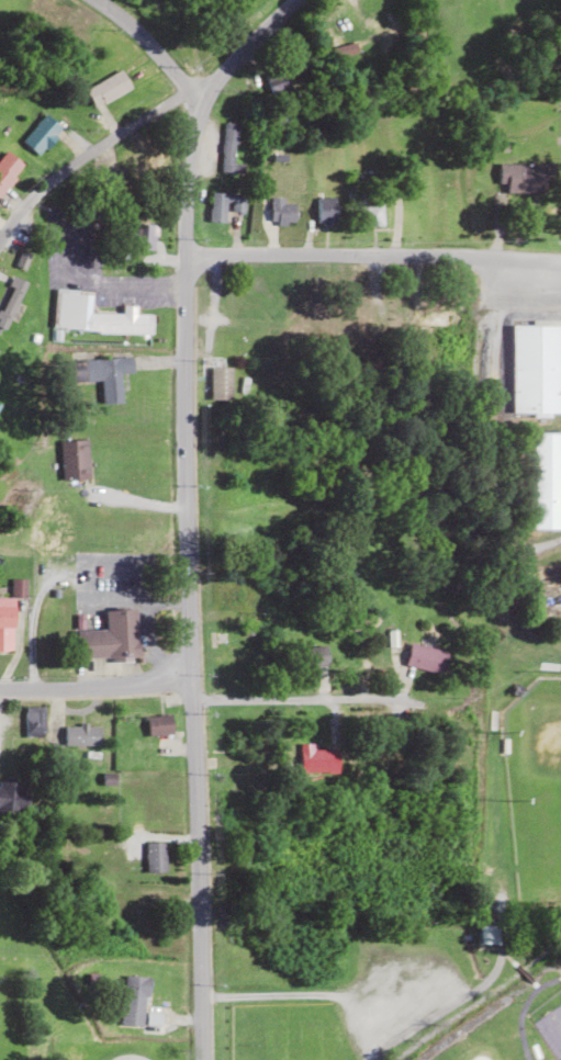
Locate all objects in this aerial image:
road: (143, 40)
road: (235, 45)
building: (279, 82)
building: (108, 88)
building: (42, 134)
building: (228, 147)
road: (85, 154)
building: (133, 162)
building: (9, 169)
building: (528, 179)
building: (224, 205)
building: (327, 211)
building: (281, 212)
building: (370, 212)
building: (144, 235)
road: (371, 255)
building: (10, 300)
building: (96, 316)
building: (362, 316)
building: (434, 317)
building: (536, 369)
building: (104, 375)
building: (221, 383)
road: (184, 386)
building: (74, 460)
building: (547, 480)
building: (53, 527)
building: (236, 596)
building: (9, 616)
building: (111, 638)
building: (227, 651)
building: (316, 656)
building: (426, 658)
road: (311, 679)
road: (94, 685)
building: (34, 723)
building: (159, 725)
building: (81, 735)
building: (317, 759)
building: (12, 798)
building: (229, 821)
building: (155, 858)
road: (195, 871)
building: (139, 913)
park: (417, 933)
building: (487, 935)
building: (134, 1001)
road: (534, 1017)

